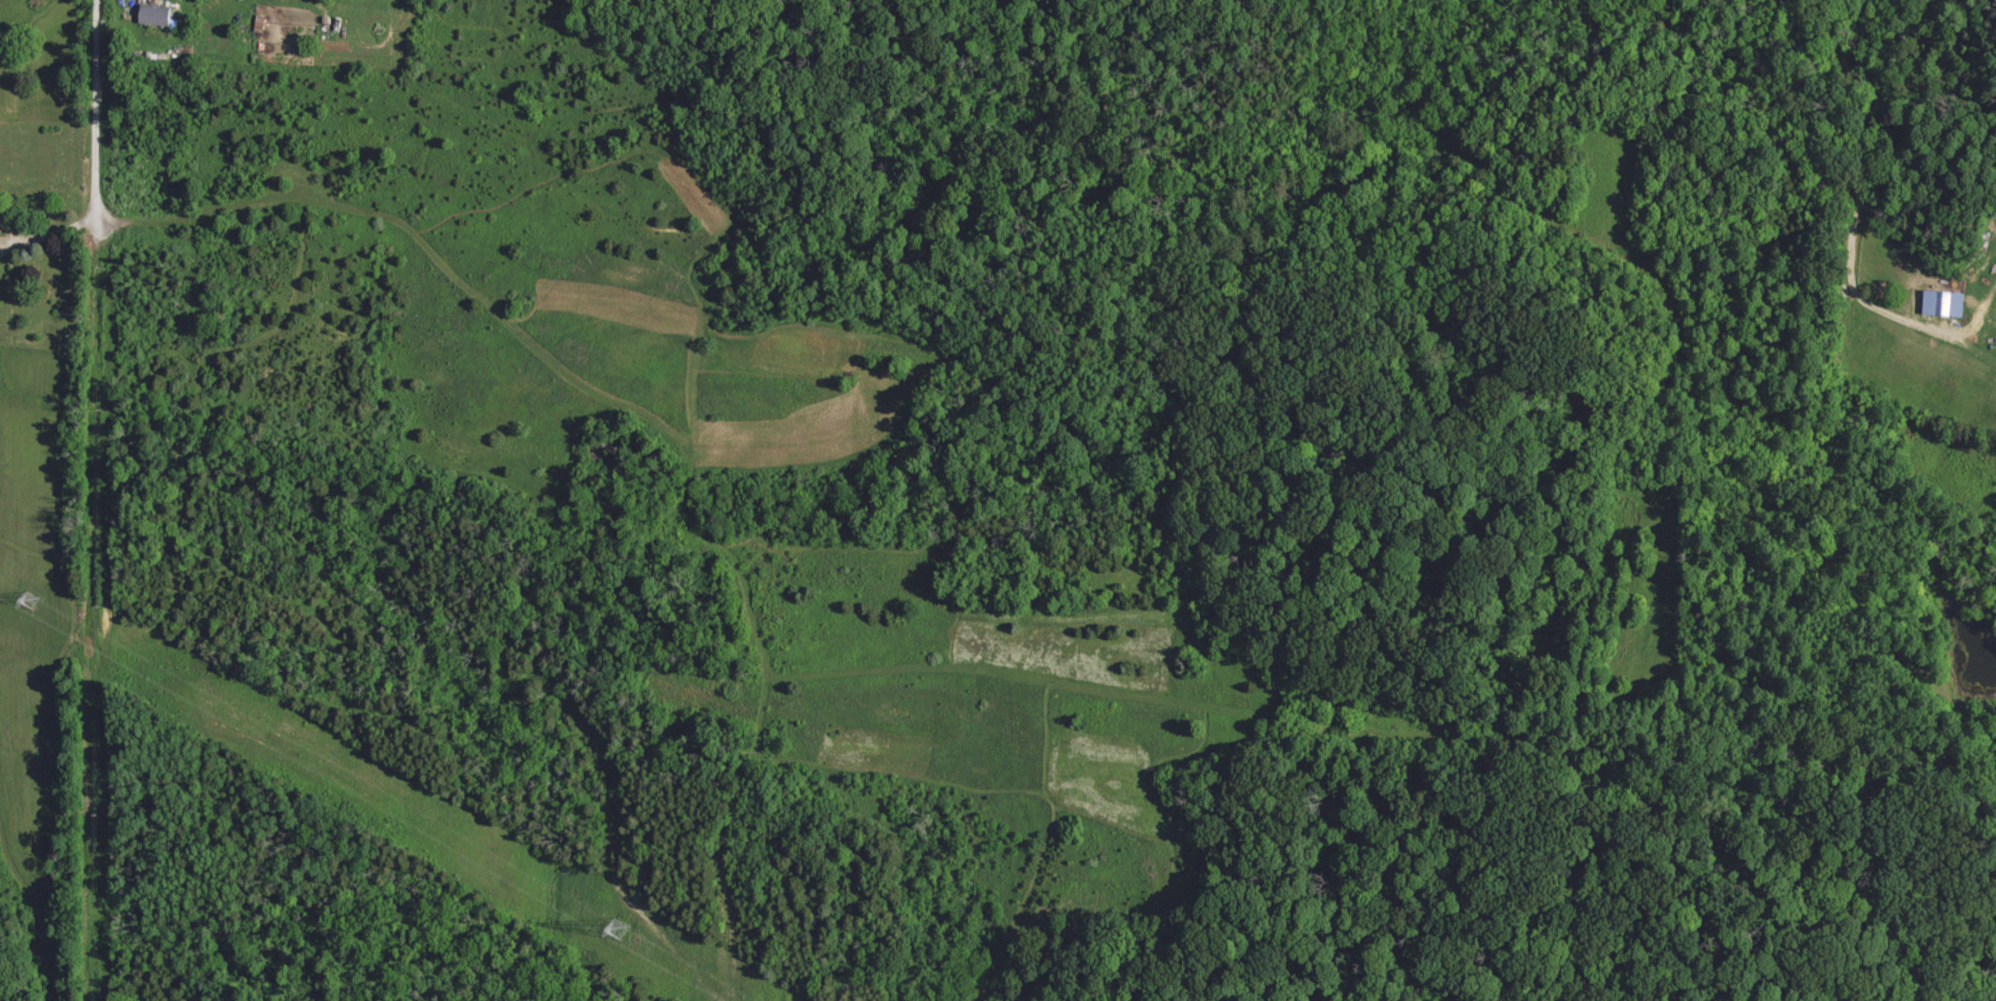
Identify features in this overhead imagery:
building: (157, 15)
building: (1946, 304)
power tower: (38, 591)
power tower: (634, 935)

